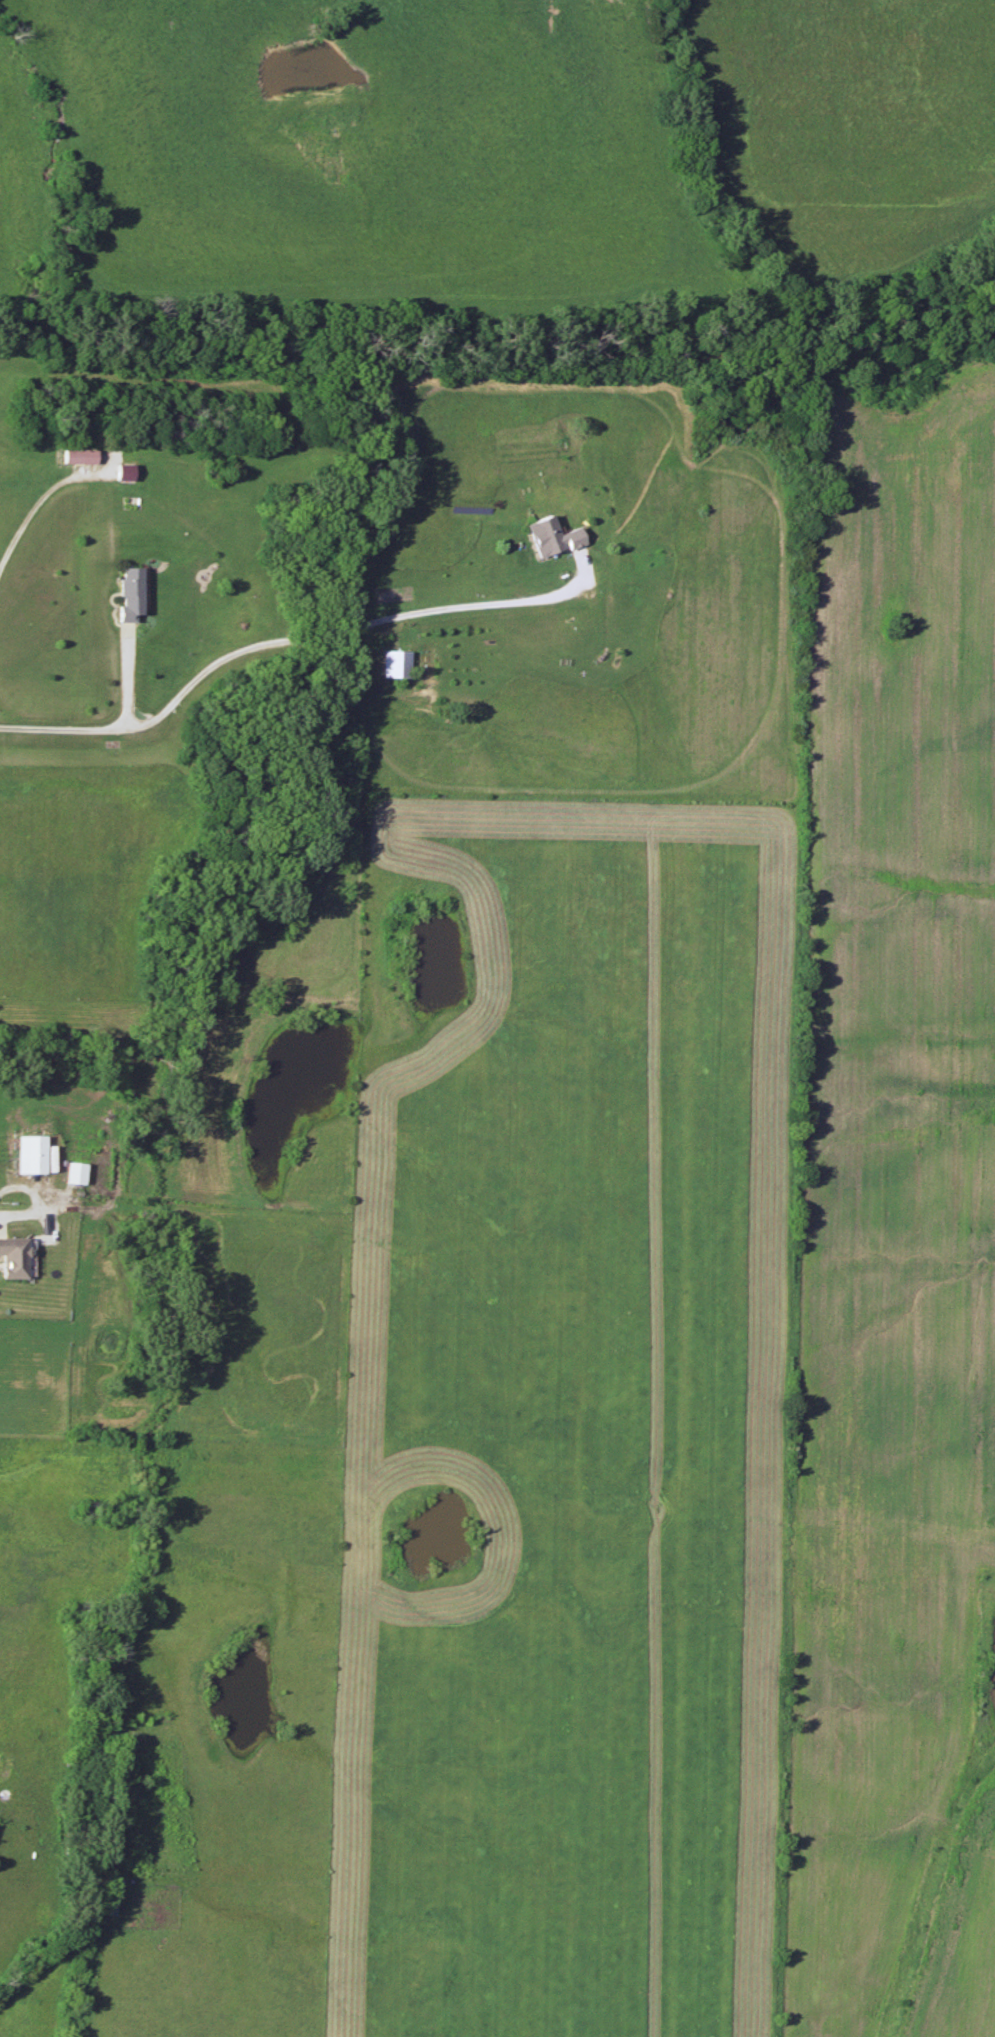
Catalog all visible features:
building: (80, 457)
road: (35, 502)
building: (552, 537)
building: (131, 593)
road: (288, 642)
building: (396, 664)
road: (125, 676)
road: (3, 1214)
building: (15, 1258)

